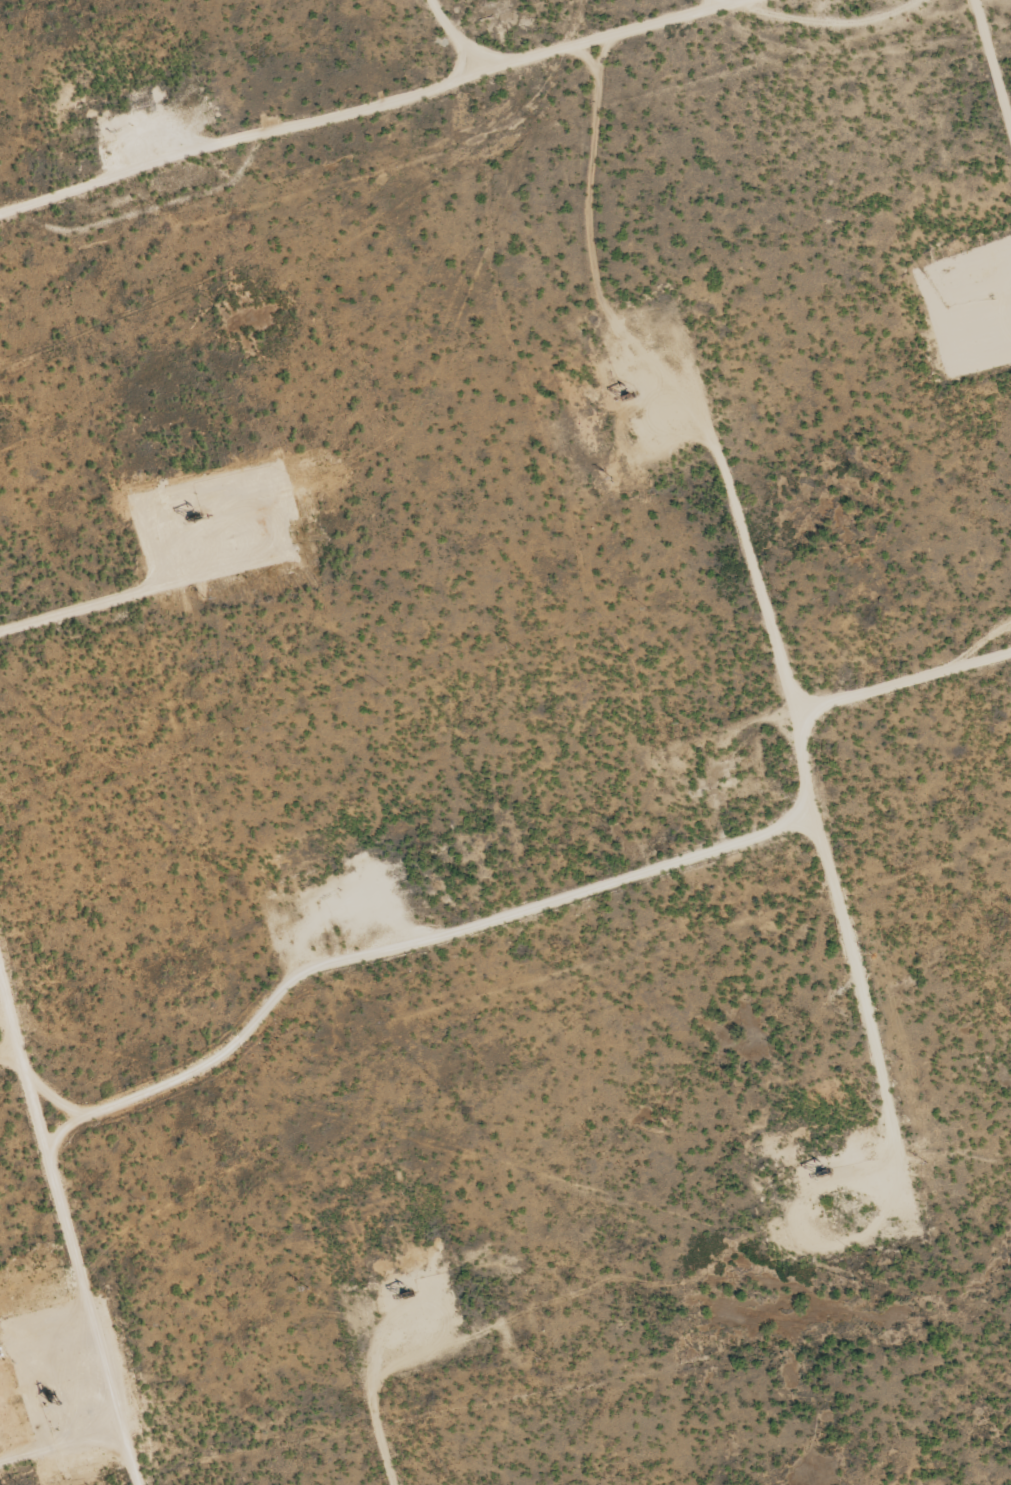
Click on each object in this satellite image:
road: (377, 109)
road: (897, 692)
road: (9, 1051)
road: (72, 1234)

